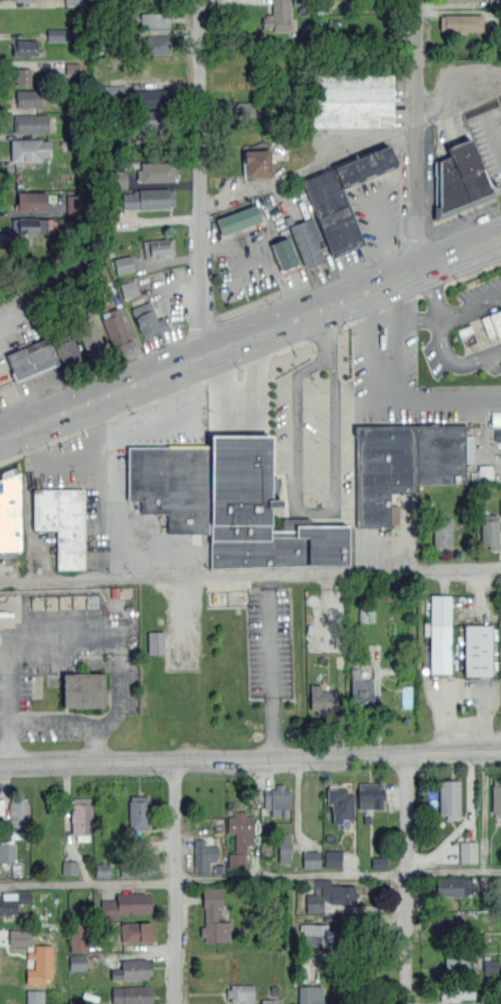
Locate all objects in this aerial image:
building: (25, 0)
building: (460, 0)
building: (72, 1)
building: (495, 2)
building: (278, 16)
building: (155, 19)
building: (461, 21)
building: (58, 34)
building: (157, 43)
building: (25, 47)
building: (22, 75)
building: (116, 83)
building: (28, 97)
building: (152, 97)
building: (352, 100)
road: (459, 105)
building: (240, 111)
building: (155, 120)
building: (32, 123)
road: (493, 127)
road: (417, 135)
parking lot: (489, 144)
building: (30, 149)
building: (257, 162)
road: (308, 164)
parking lot: (428, 165)
building: (155, 171)
building: (114, 178)
road: (199, 178)
building: (460, 181)
road: (293, 192)
building: (148, 197)
building: (32, 201)
building: (328, 201)
parking lot: (296, 202)
building: (74, 204)
building: (237, 219)
building: (32, 225)
parking lot: (365, 227)
building: (307, 240)
building: (159, 247)
building: (285, 253)
parking lot: (256, 255)
building: (124, 264)
road: (274, 275)
building: (99, 277)
building: (128, 288)
road: (175, 290)
parking lot: (167, 302)
road: (469, 305)
building: (148, 319)
road: (418, 319)
road: (323, 324)
building: (492, 324)
building: (116, 328)
parking lot: (463, 332)
building: (90, 335)
road: (250, 336)
road: (443, 338)
parking lot: (14, 345)
building: (67, 348)
building: (33, 357)
road: (333, 357)
road: (317, 361)
parking lot: (409, 379)
road: (389, 396)
road: (443, 400)
parking lot: (241, 401)
building: (496, 418)
road: (163, 421)
road: (245, 421)
parking lot: (317, 446)
road: (51, 464)
building: (403, 464)
parking lot: (126, 483)
building: (171, 484)
road: (106, 489)
building: (500, 508)
building: (11, 511)
building: (261, 512)
road: (314, 512)
building: (62, 521)
building: (490, 532)
building: (443, 533)
road: (250, 575)
building: (500, 592)
building: (440, 633)
road: (64, 641)
building: (156, 641)
parking lot: (269, 642)
building: (478, 649)
road: (270, 665)
parking lot: (66, 672)
building: (82, 689)
road: (464, 690)
building: (362, 691)
building: (322, 700)
parking lot: (462, 702)
road: (58, 725)
road: (250, 756)
building: (371, 794)
building: (496, 797)
building: (449, 798)
building: (277, 799)
building: (341, 803)
building: (139, 811)
building: (18, 816)
building: (81, 818)
building: (240, 834)
building: (284, 847)
building: (468, 851)
building: (7, 852)
building: (204, 855)
building: (311, 858)
building: (332, 858)
building: (379, 861)
building: (70, 866)
building: (138, 868)
building: (102, 869)
road: (293, 876)
road: (407, 877)
road: (89, 881)
road: (178, 881)
building: (455, 886)
building: (329, 893)
building: (13, 901)
building: (127, 904)
building: (213, 917)
building: (451, 924)
building: (137, 931)
building: (319, 934)
building: (79, 937)
building: (33, 955)
building: (457, 961)
building: (77, 962)
building: (490, 966)
building: (133, 969)
building: (457, 988)
building: (241, 992)
building: (132, 994)
building: (307, 994)
building: (35, 997)
building: (268, 1001)

